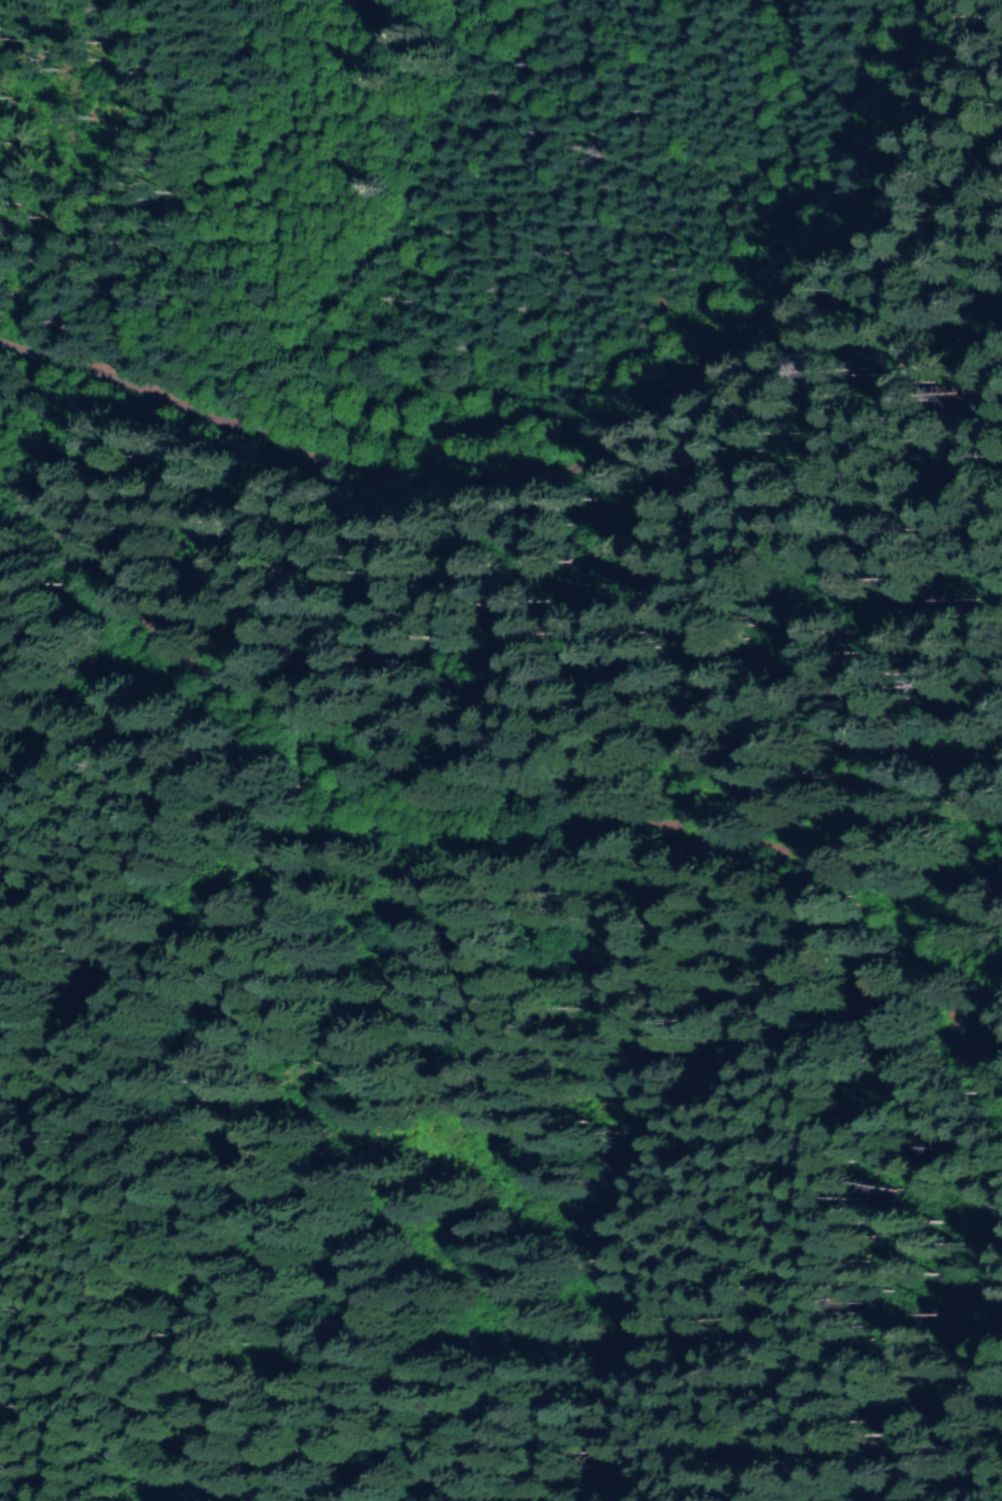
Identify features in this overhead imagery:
road: (584, 425)
road: (501, 811)

